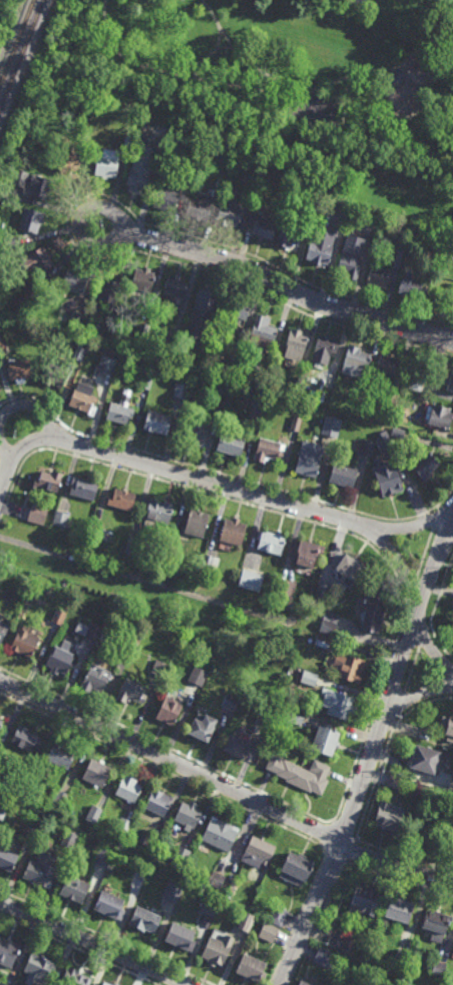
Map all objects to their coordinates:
railway: (17, 42)
road: (223, 47)
railway: (21, 53)
road: (239, 54)
road: (198, 61)
road: (376, 70)
building: (394, 74)
road: (178, 75)
park: (280, 79)
park: (317, 106)
building: (128, 139)
building: (224, 151)
building: (68, 160)
building: (108, 162)
building: (140, 167)
building: (187, 168)
building: (20, 177)
building: (250, 185)
building: (41, 186)
building: (165, 195)
road: (95, 204)
building: (199, 205)
building: (310, 208)
building: (227, 214)
building: (342, 218)
building: (31, 219)
road: (67, 221)
building: (260, 225)
building: (374, 225)
building: (405, 233)
building: (289, 235)
building: (12, 240)
building: (433, 241)
building: (319, 253)
building: (41, 258)
building: (349, 265)
building: (378, 274)
building: (141, 279)
building: (75, 280)
building: (411, 285)
road: (286, 286)
building: (174, 288)
building: (110, 292)
building: (452, 292)
building: (28, 297)
building: (202, 304)
building: (235, 309)
building: (92, 311)
building: (77, 319)
building: (143, 330)
building: (262, 333)
building: (174, 337)
building: (295, 344)
building: (2, 345)
building: (324, 349)
building: (112, 351)
building: (79, 353)
building: (236, 355)
building: (356, 361)
building: (388, 364)
building: (107, 365)
building: (19, 370)
building: (55, 375)
building: (448, 380)
building: (145, 382)
building: (375, 382)
building: (297, 383)
building: (416, 383)
building: (180, 390)
building: (84, 398)
building: (390, 399)
building: (258, 400)
building: (220, 403)
road: (35, 406)
building: (121, 409)
building: (441, 416)
building: (156, 422)
building: (295, 422)
building: (331, 426)
building: (194, 432)
building: (384, 442)
building: (230, 443)
building: (366, 447)
road: (5, 450)
building: (268, 450)
building: (309, 459)
building: (425, 466)
road: (212, 472)
building: (342, 475)
building: (388, 478)
building: (49, 481)
road: (220, 485)
building: (83, 488)
road: (201, 492)
road: (446, 498)
building: (122, 499)
building: (37, 512)
building: (157, 513)
road: (436, 517)
building: (60, 519)
building: (195, 523)
road: (392, 527)
building: (94, 532)
building: (232, 532)
building: (270, 542)
building: (135, 546)
road: (425, 553)
building: (307, 554)
building: (210, 563)
building: (349, 569)
building: (29, 581)
building: (250, 581)
building: (286, 590)
building: (322, 591)
road: (412, 591)
road: (439, 594)
building: (373, 614)
building: (59, 617)
building: (328, 623)
building: (3, 631)
building: (93, 632)
building: (452, 632)
road: (422, 636)
road: (437, 641)
building: (321, 643)
building: (25, 644)
road: (432, 650)
building: (129, 653)
building: (61, 659)
road: (412, 668)
building: (159, 669)
building: (349, 669)
building: (196, 676)
building: (98, 679)
building: (309, 679)
building: (131, 692)
road: (409, 697)
building: (229, 701)
road: (400, 704)
building: (338, 705)
road: (420, 706)
building: (167, 708)
road: (372, 712)
building: (264, 714)
building: (288, 714)
building: (0, 721)
building: (201, 724)
building: (1, 726)
building: (448, 727)
building: (325, 739)
building: (26, 740)
building: (236, 743)
road: (167, 749)
building: (61, 754)
road: (370, 756)
building: (424, 756)
road: (166, 770)
building: (95, 771)
building: (300, 772)
road: (376, 779)
building: (396, 780)
building: (450, 780)
road: (224, 785)
building: (127, 787)
building: (55, 799)
building: (450, 800)
building: (157, 801)
building: (3, 806)
building: (187, 814)
building: (388, 814)
building: (94, 816)
building: (32, 825)
building: (123, 825)
building: (219, 833)
building: (144, 837)
building: (67, 839)
building: (452, 839)
building: (153, 841)
building: (452, 846)
building: (257, 851)
road: (350, 852)
building: (180, 854)
building: (7, 855)
building: (102, 856)
building: (295, 866)
building: (40, 868)
building: (215, 879)
building: (228, 885)
building: (72, 887)
building: (171, 891)
building: (363, 900)
building: (107, 903)
building: (208, 905)
building: (398, 907)
building: (276, 914)
building: (144, 919)
building: (243, 920)
road: (296, 920)
building: (436, 923)
road: (317, 924)
building: (268, 931)
building: (179, 935)
road: (93, 943)
building: (341, 943)
building: (217, 949)
building: (8, 950)
building: (401, 955)
building: (324, 956)
building: (41, 967)
building: (251, 967)
building: (438, 968)
building: (73, 977)
building: (369, 979)
building: (3, 983)
building: (107, 983)
building: (303, 983)

